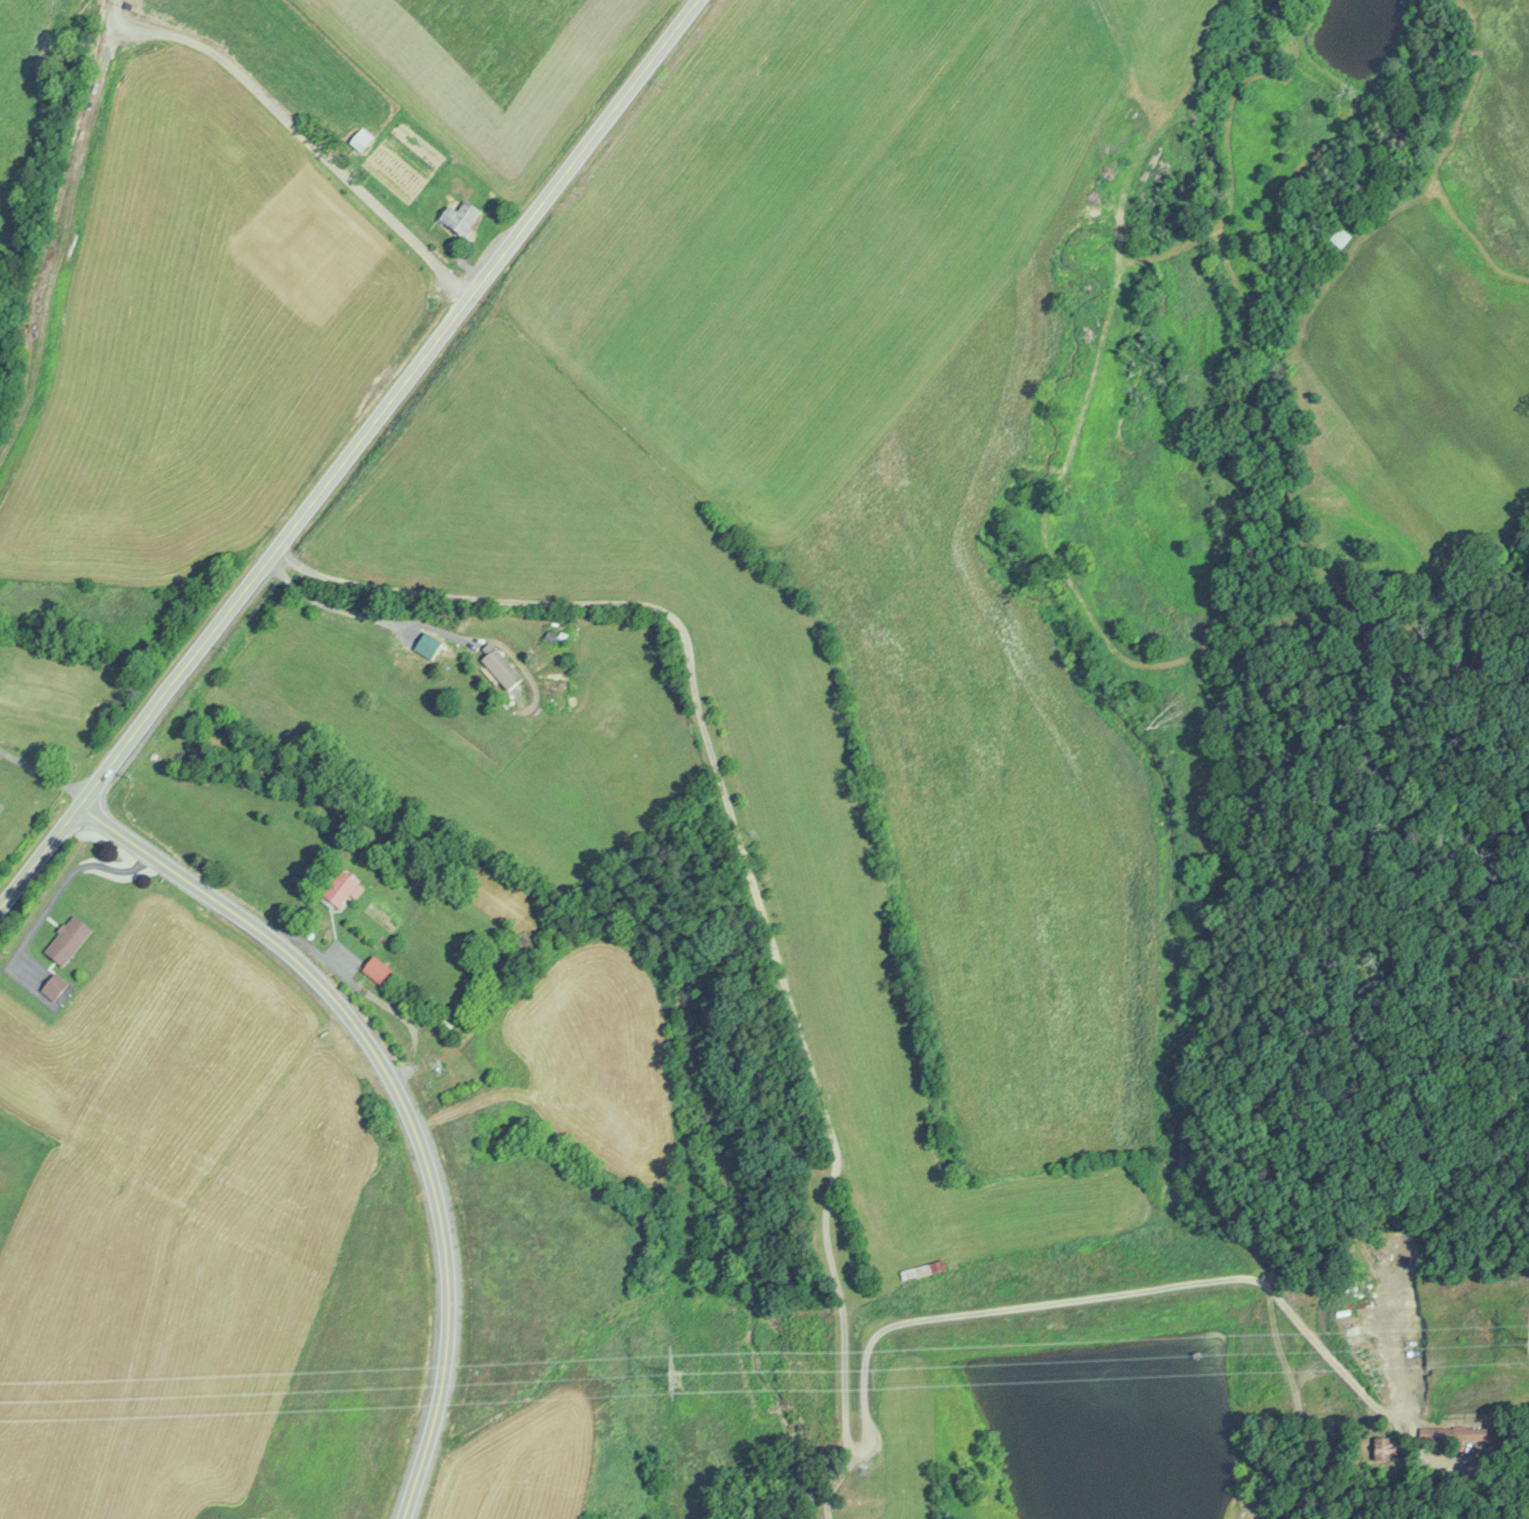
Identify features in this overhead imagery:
road: (295, 127)
building: (360, 138)
building: (460, 216)
building: (1340, 237)
road: (346, 450)
building: (0, 804)
building: (341, 888)
building: (67, 938)
building: (376, 968)
building: (53, 985)
road: (397, 1093)
road: (831, 1172)
dam: (1045, 1296)
power tower: (1528, 1343)
power tower: (675, 1376)
building: (1455, 1433)

